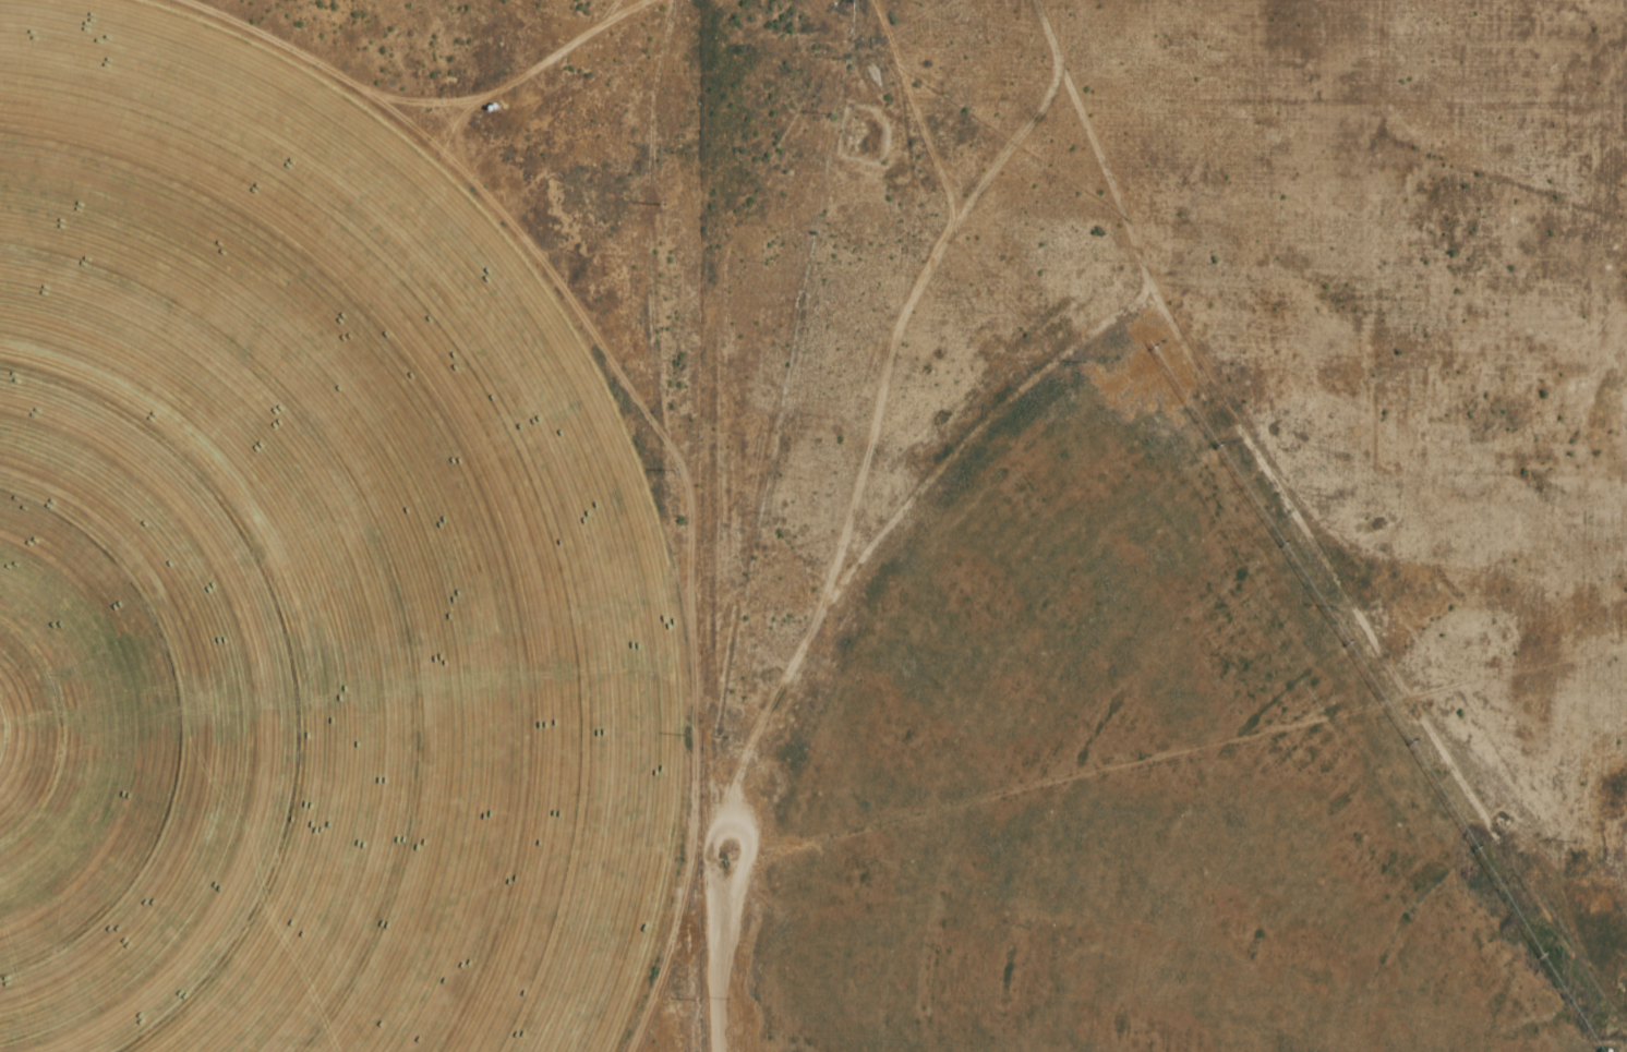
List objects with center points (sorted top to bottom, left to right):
power tower: (662, 204)
power tower: (671, 470)
power tower: (686, 734)
power tower: (695, 999)

